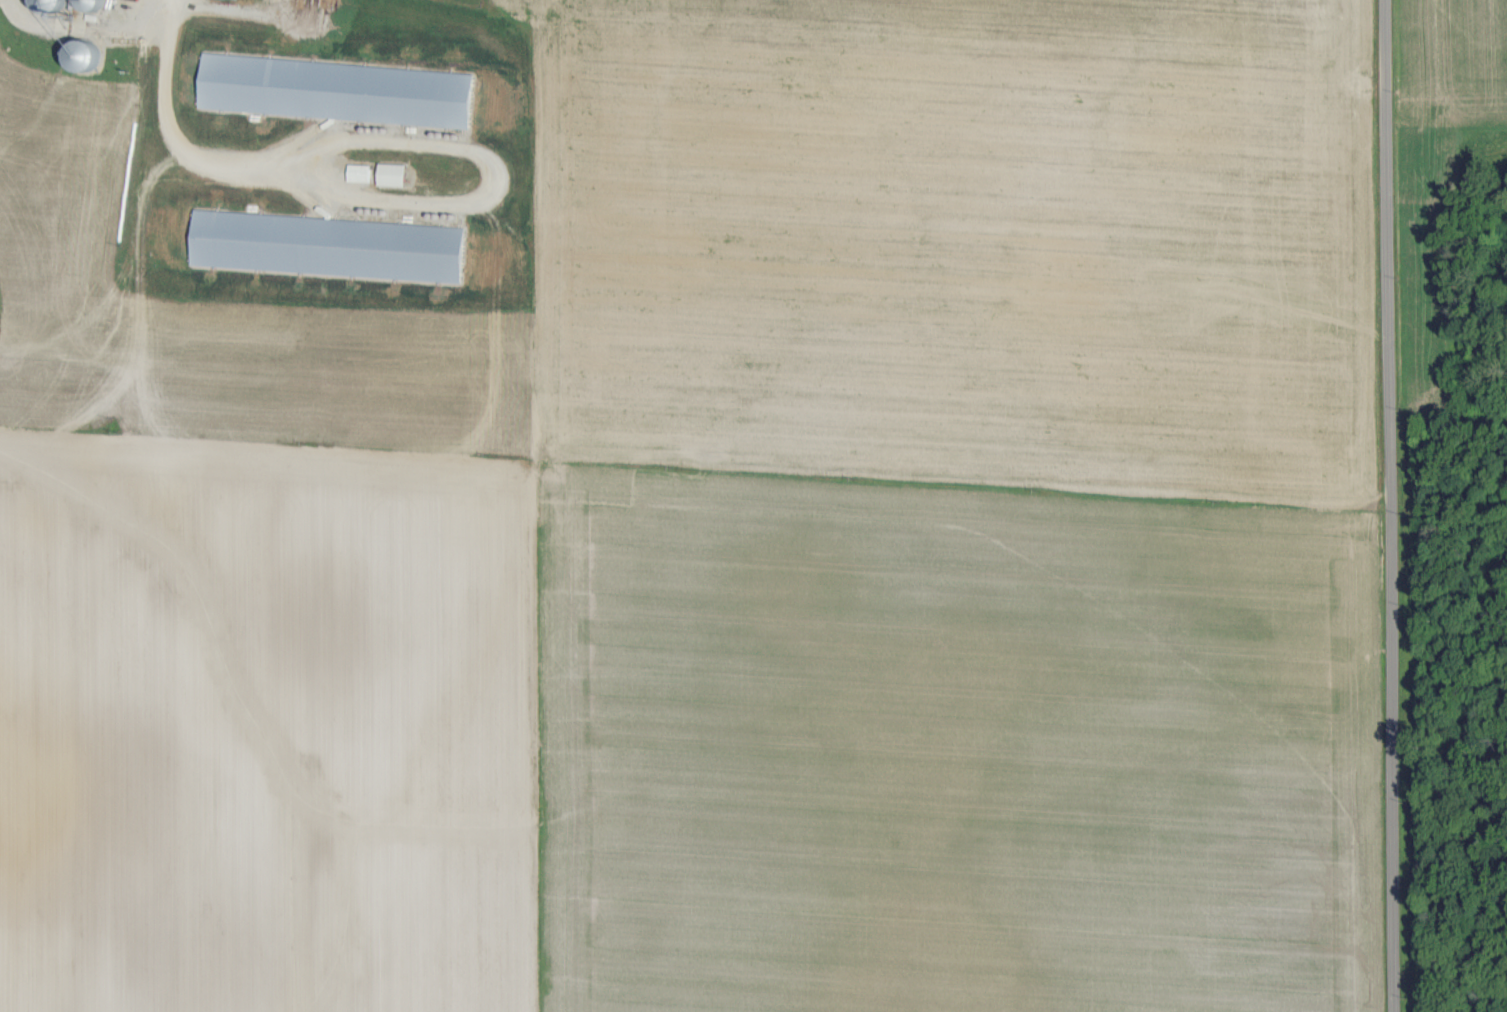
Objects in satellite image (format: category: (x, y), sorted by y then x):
building: (339, 89)
building: (362, 171)
building: (396, 172)
building: (331, 244)
road: (1387, 506)

